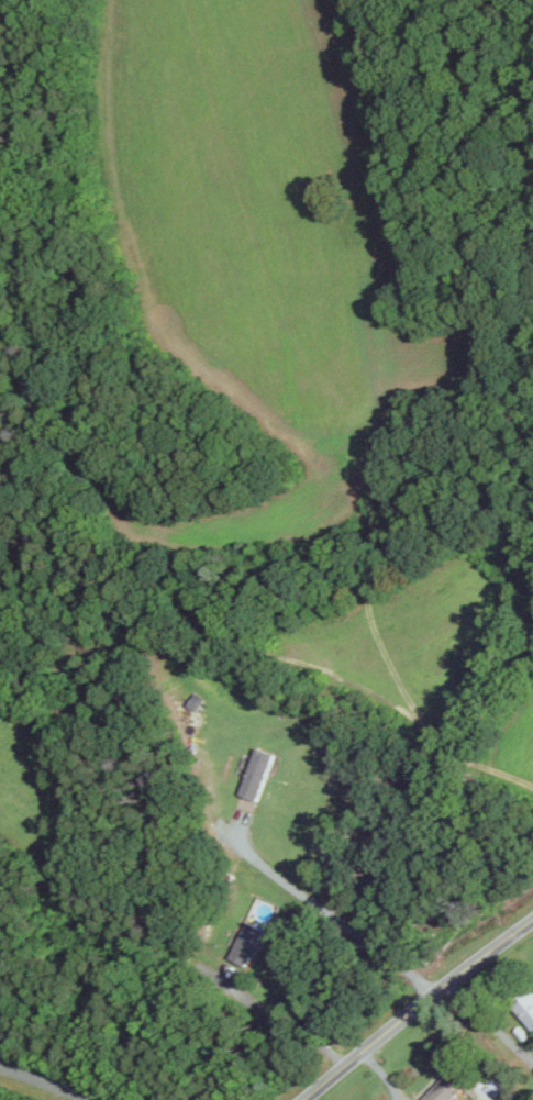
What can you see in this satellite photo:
building: (196, 701)
building: (257, 773)
road: (337, 916)
building: (247, 943)
building: (526, 1008)
road: (420, 1012)
road: (492, 1024)
road: (291, 1025)
road: (43, 1084)
building: (448, 1086)

